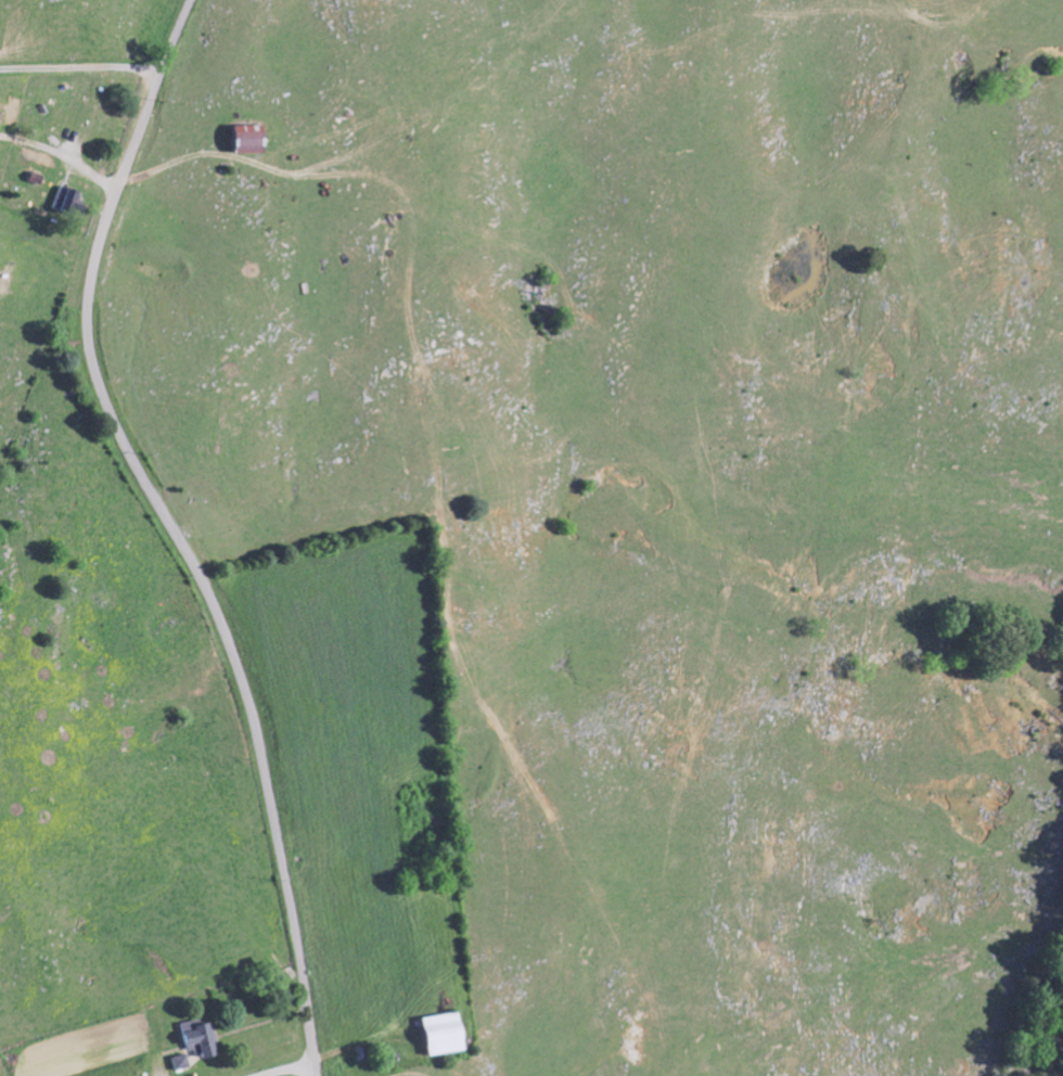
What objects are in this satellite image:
building: (0, 113)
building: (238, 140)
building: (65, 203)
road: (172, 531)
building: (433, 1034)
building: (191, 1037)
building: (175, 1062)
road: (269, 1065)

